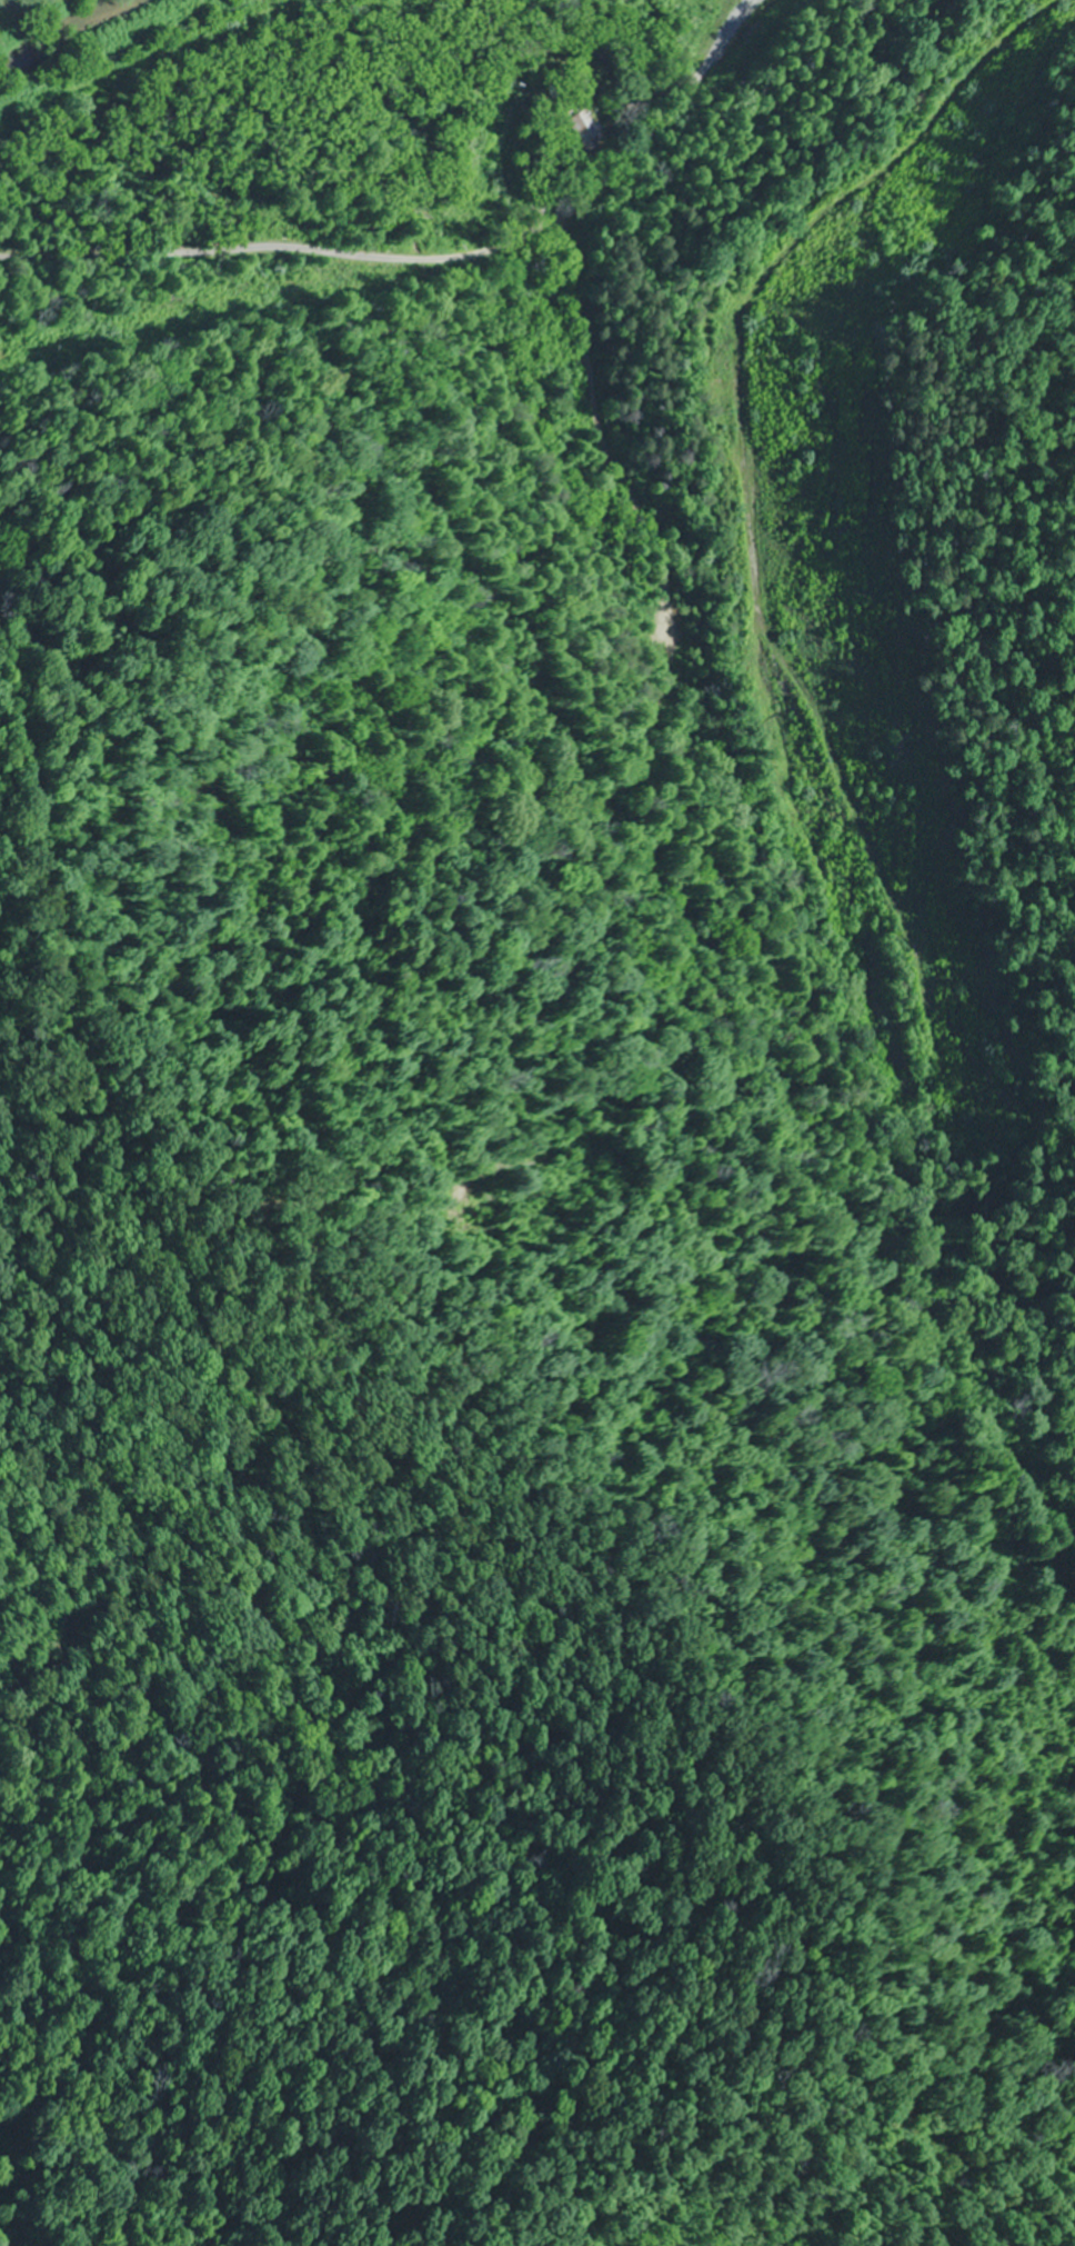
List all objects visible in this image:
railway: (195, 76)
building: (581, 126)
road: (430, 258)

